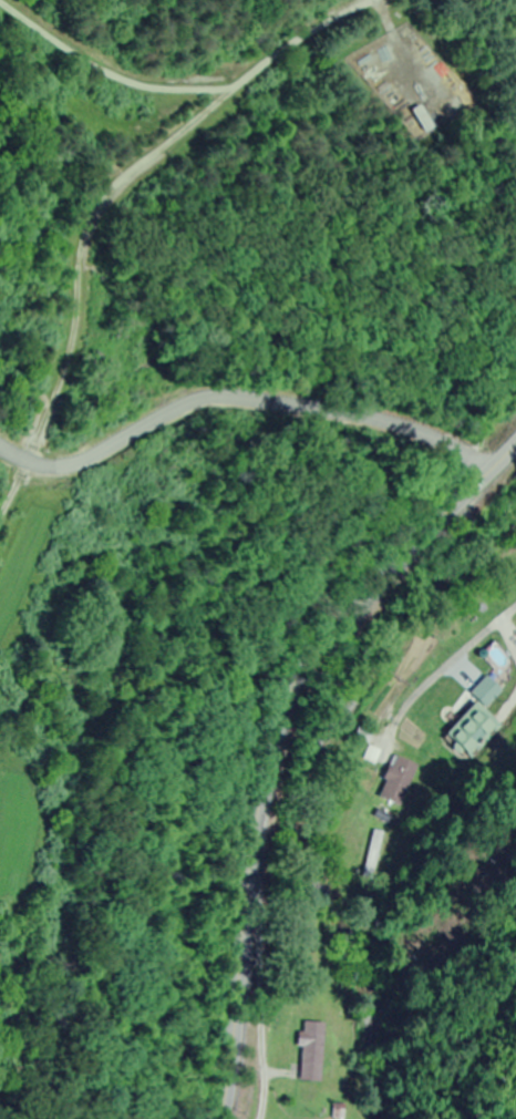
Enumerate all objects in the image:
building: (425, 119)
road: (515, 506)
building: (477, 719)
road: (274, 741)
building: (401, 780)
building: (378, 850)
building: (316, 1051)

